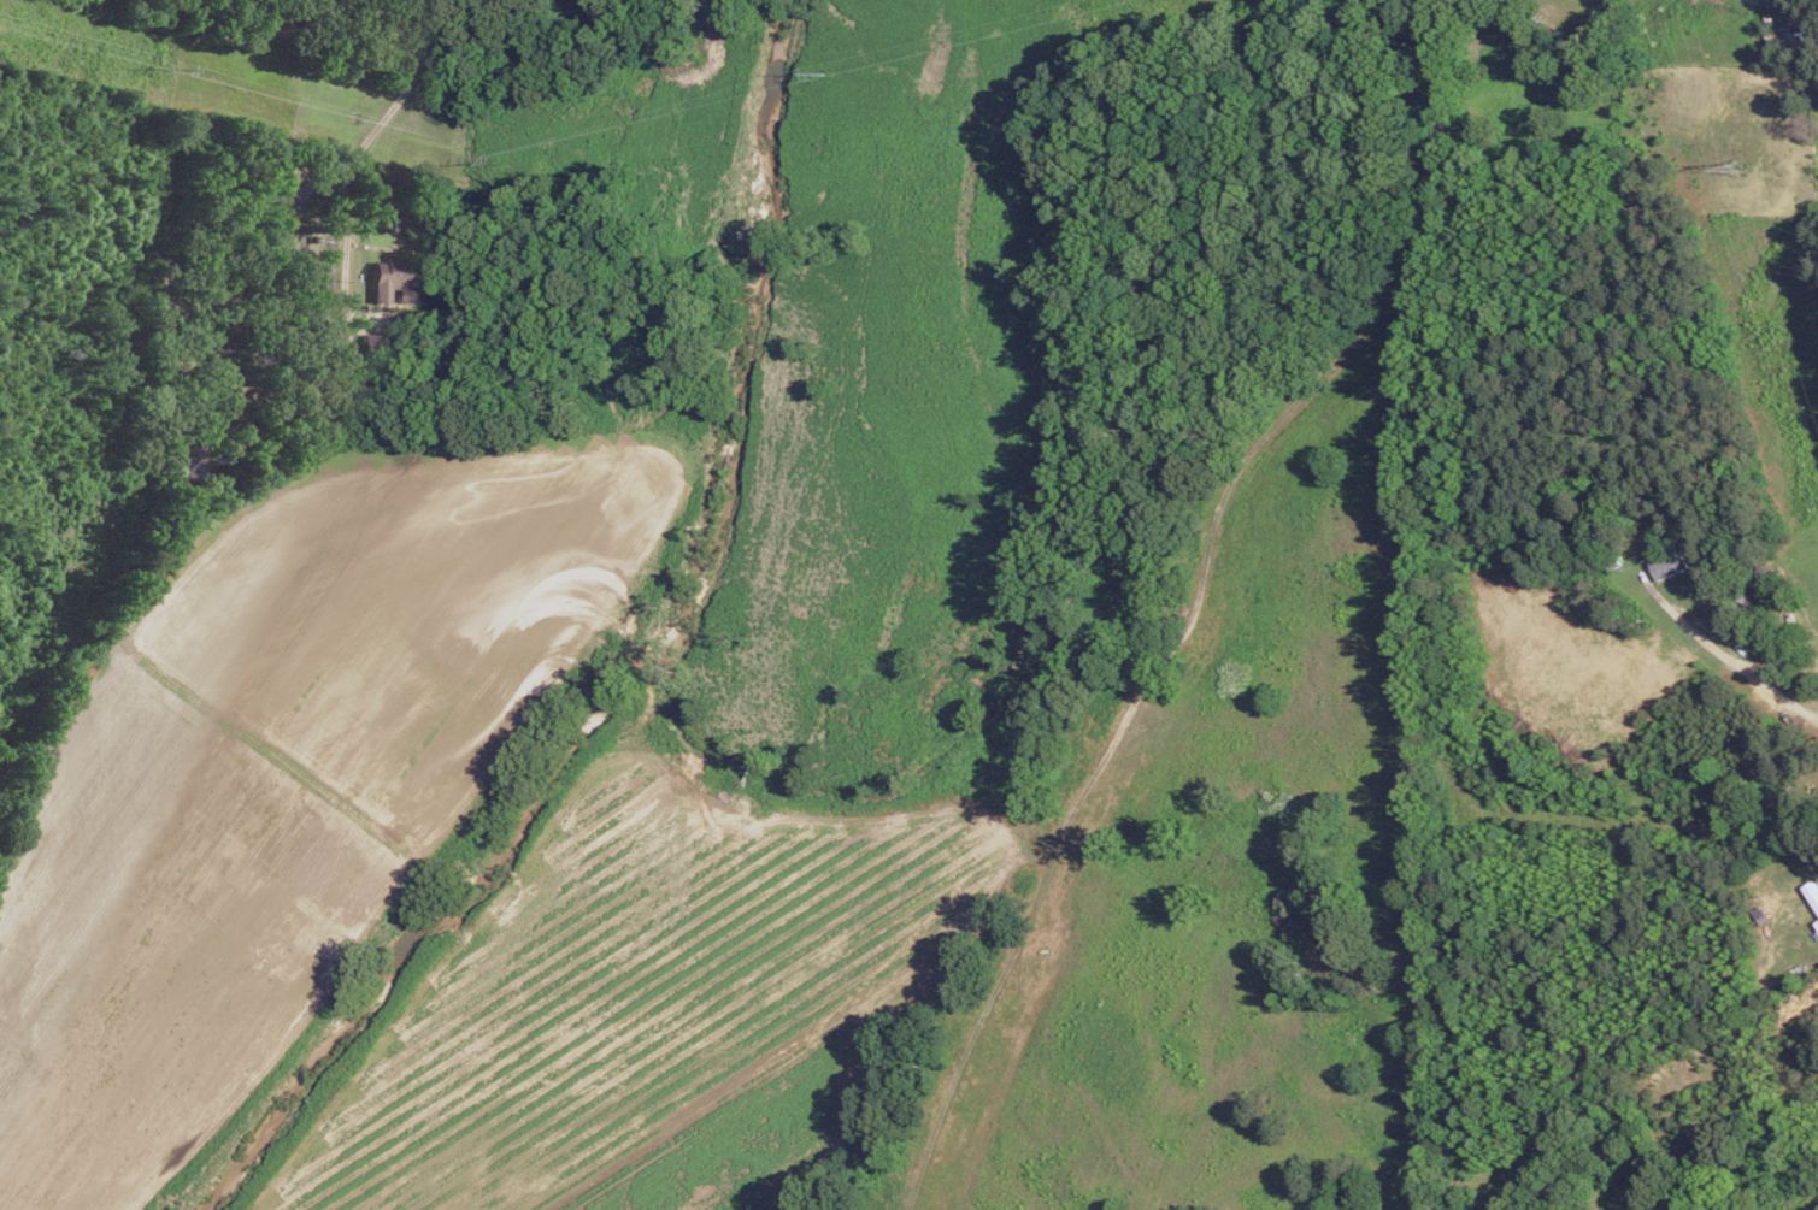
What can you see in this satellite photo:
road: (412, 77)
power tower: (1734, 167)
road: (347, 237)
building: (394, 279)
building: (1669, 562)
building: (1757, 584)
road: (1724, 654)
road: (1782, 700)
building: (1812, 892)
building: (1817, 922)

